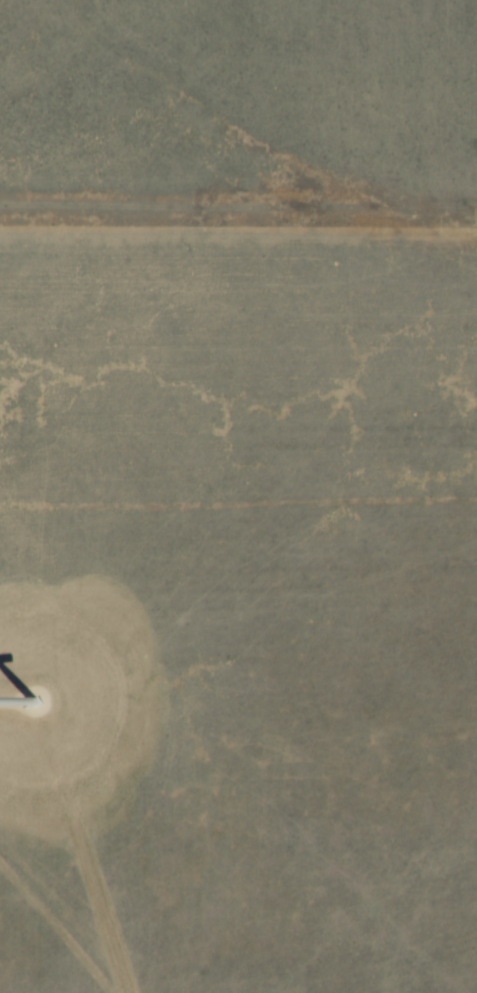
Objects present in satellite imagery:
wind turbine: (33, 701)
road: (7, 704)

